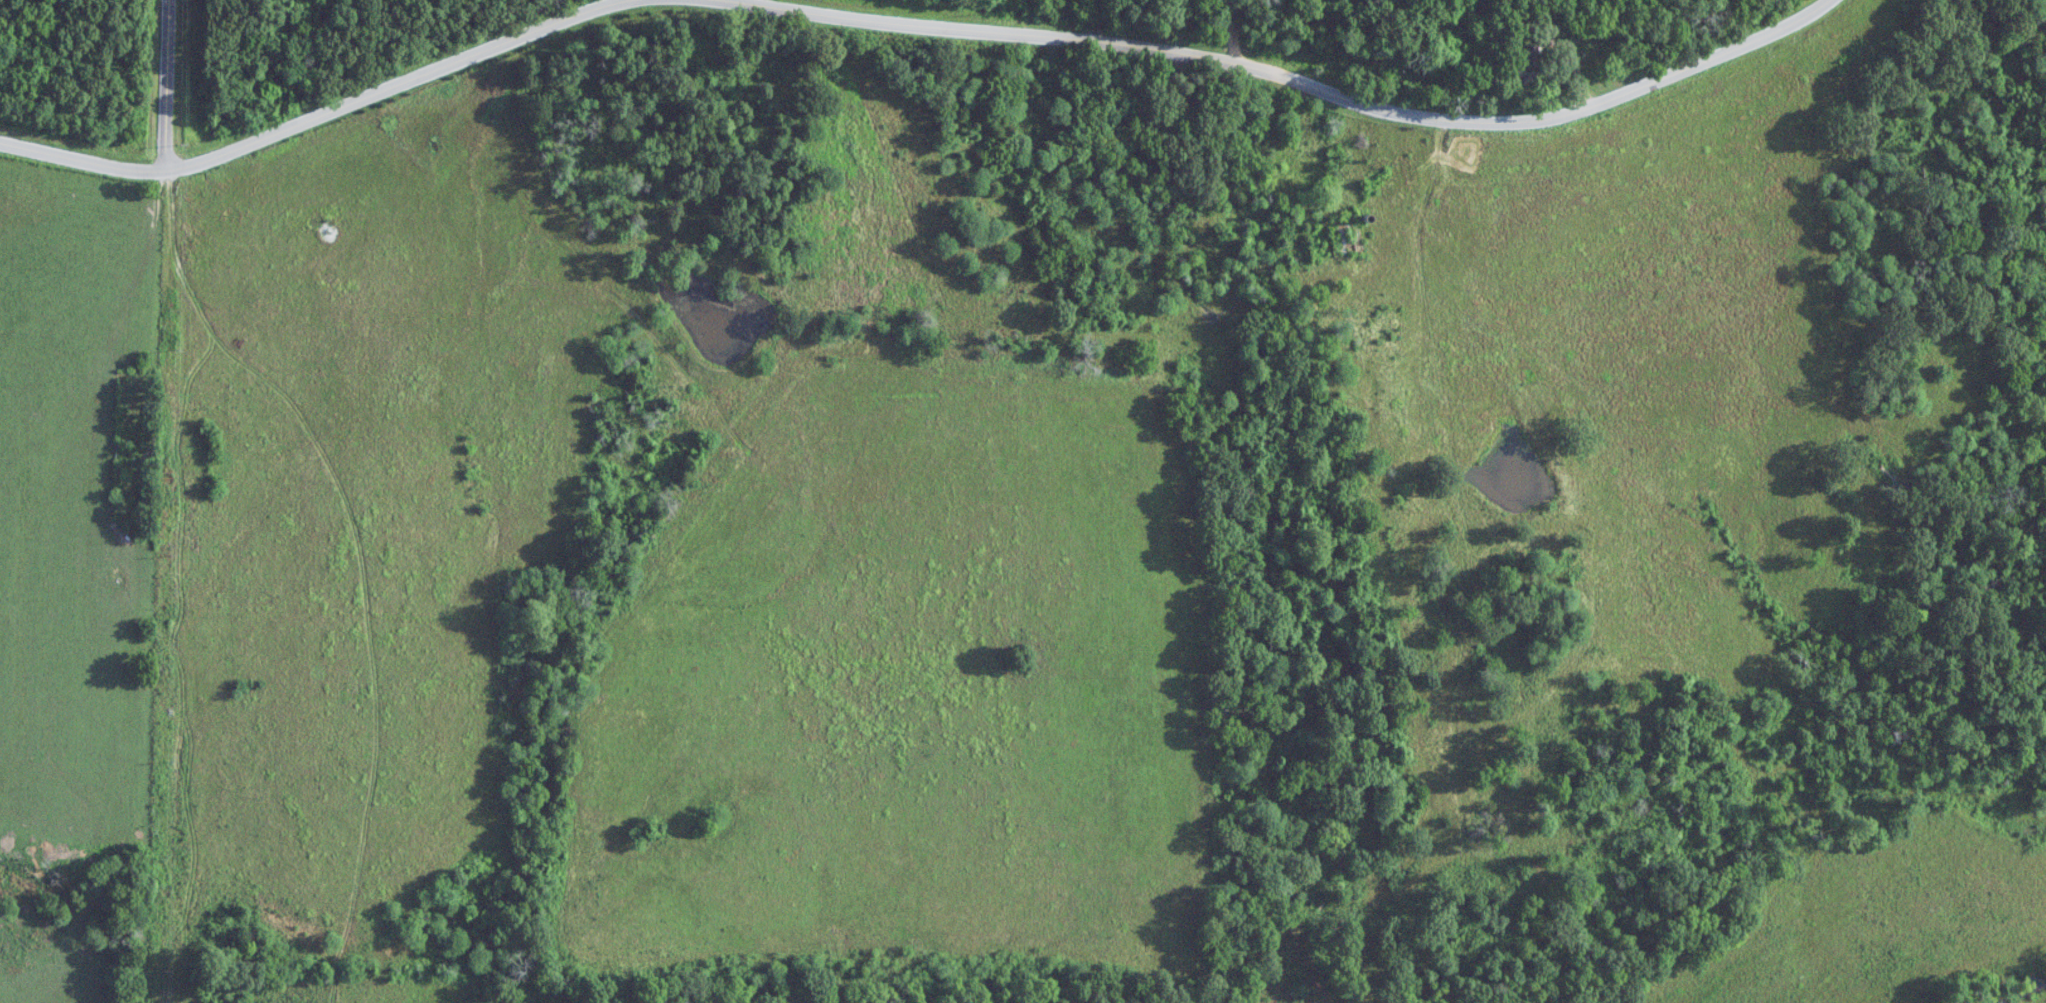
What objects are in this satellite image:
building: (1528, 62)
road: (1286, 76)
road: (168, 85)
park: (1161, 98)
road: (320, 116)

